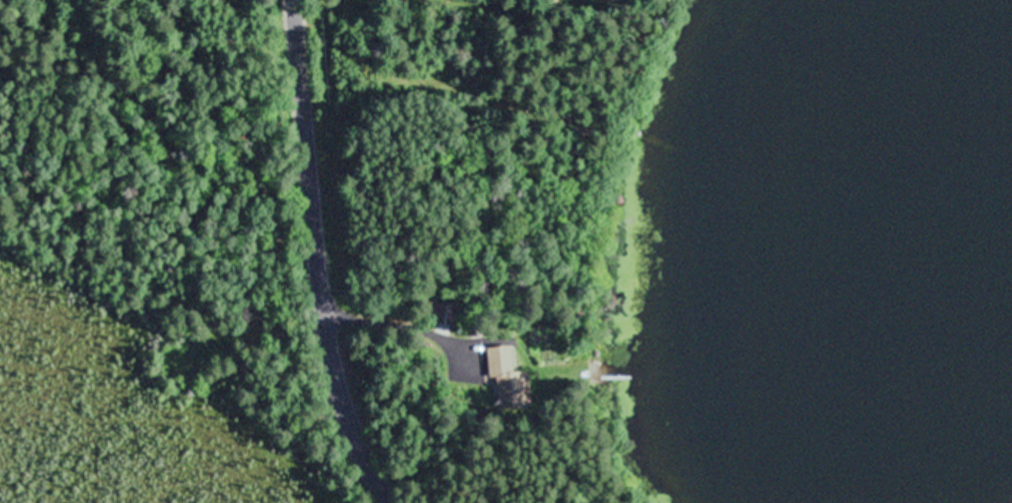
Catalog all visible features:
road: (322, 259)
building: (509, 379)

